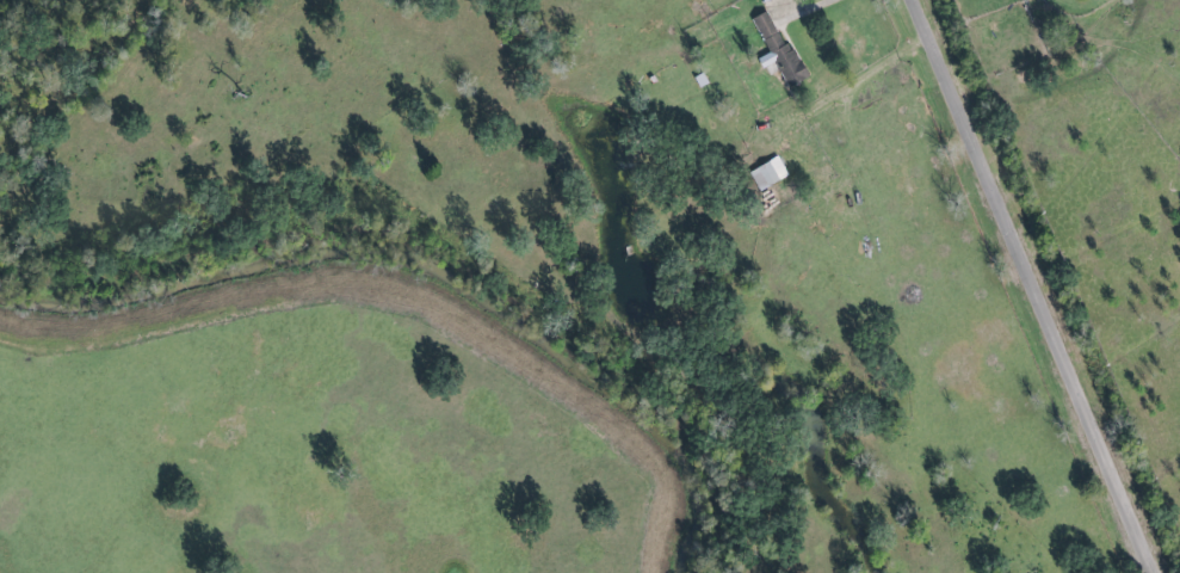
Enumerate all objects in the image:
building: (777, 47)
building: (770, 172)
river: (428, 275)
road: (1042, 286)

